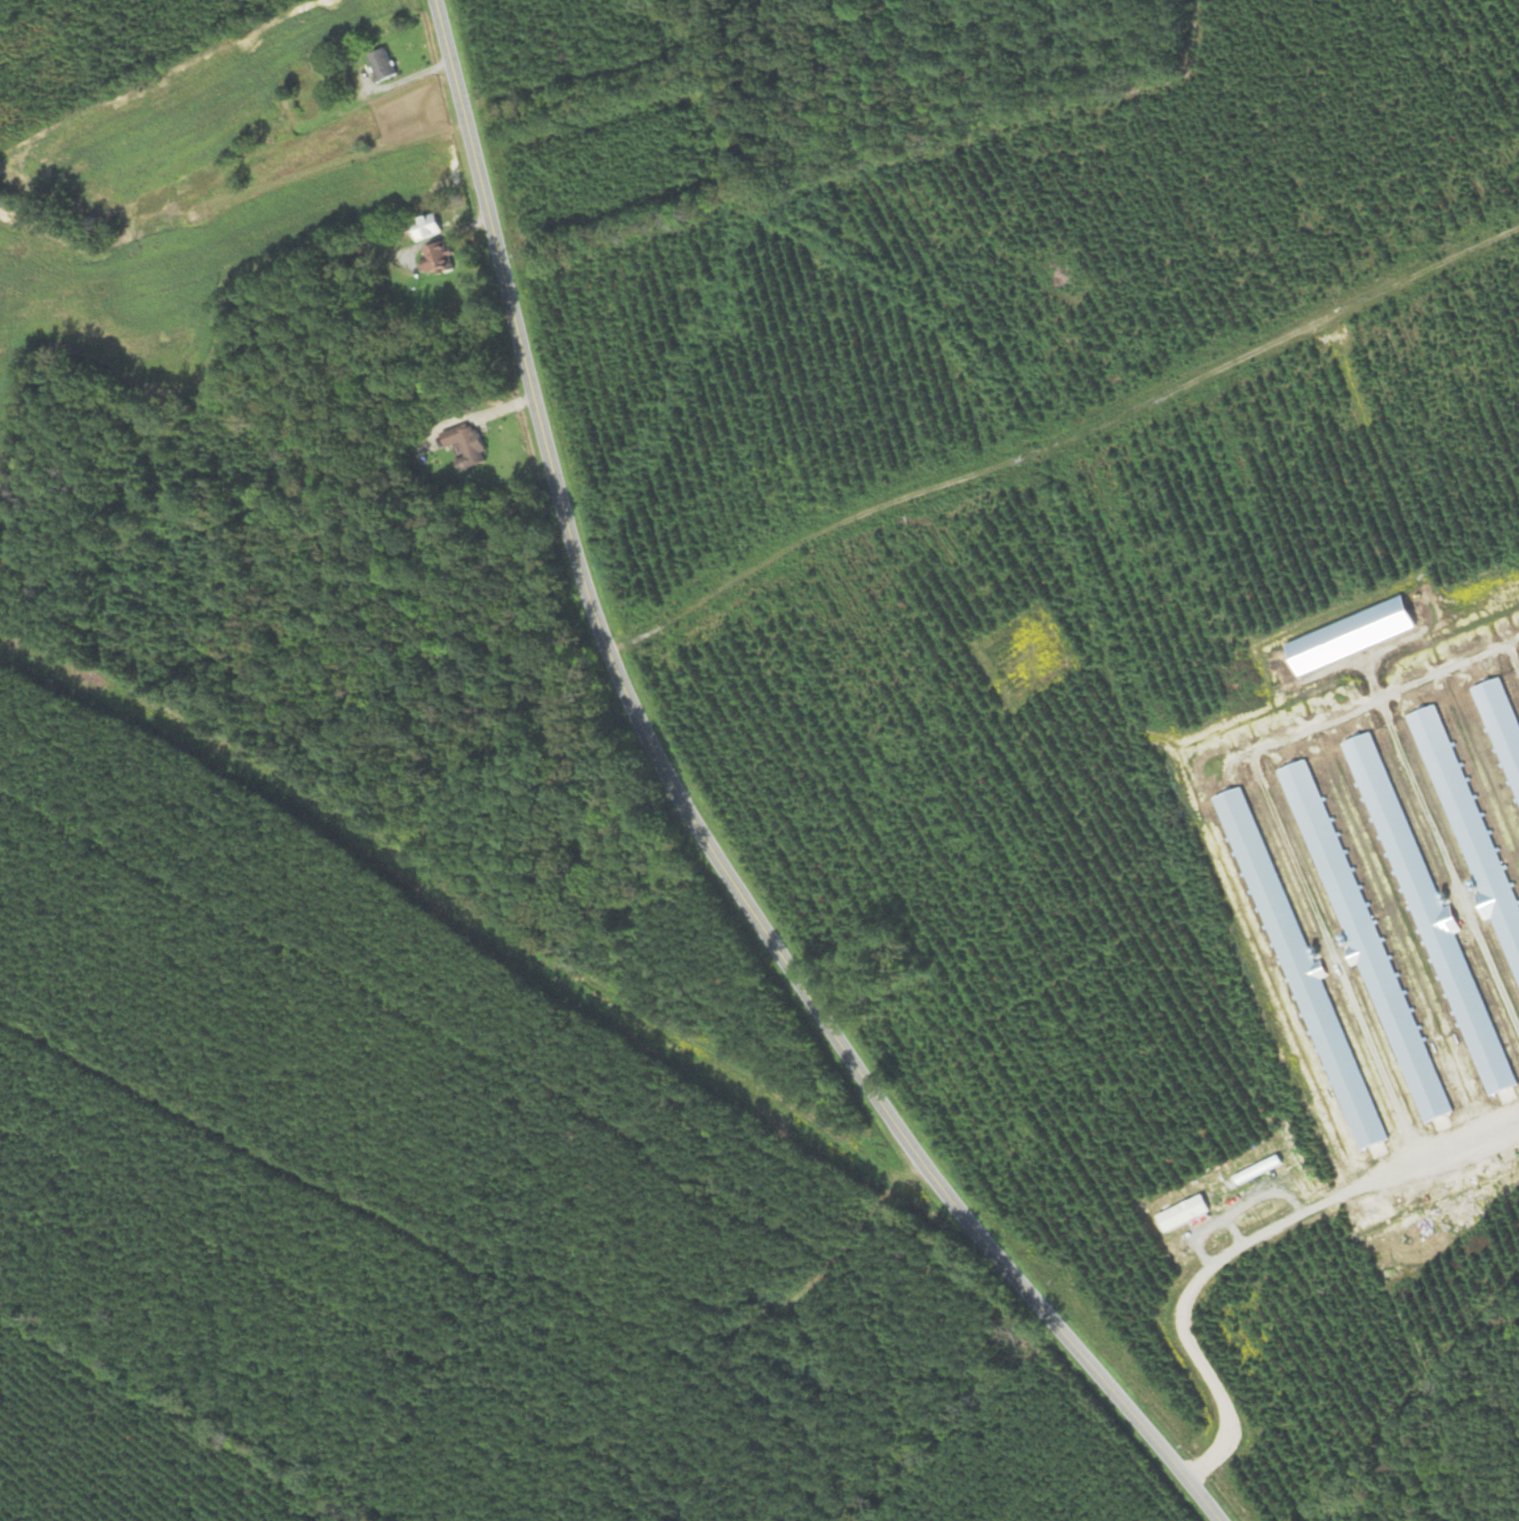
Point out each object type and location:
building: (382, 65)
building: (426, 226)
building: (437, 257)
road: (350, 384)
building: (468, 446)
road: (700, 827)
road: (1236, 1214)
road: (1235, 1232)
road: (1248, 1242)

